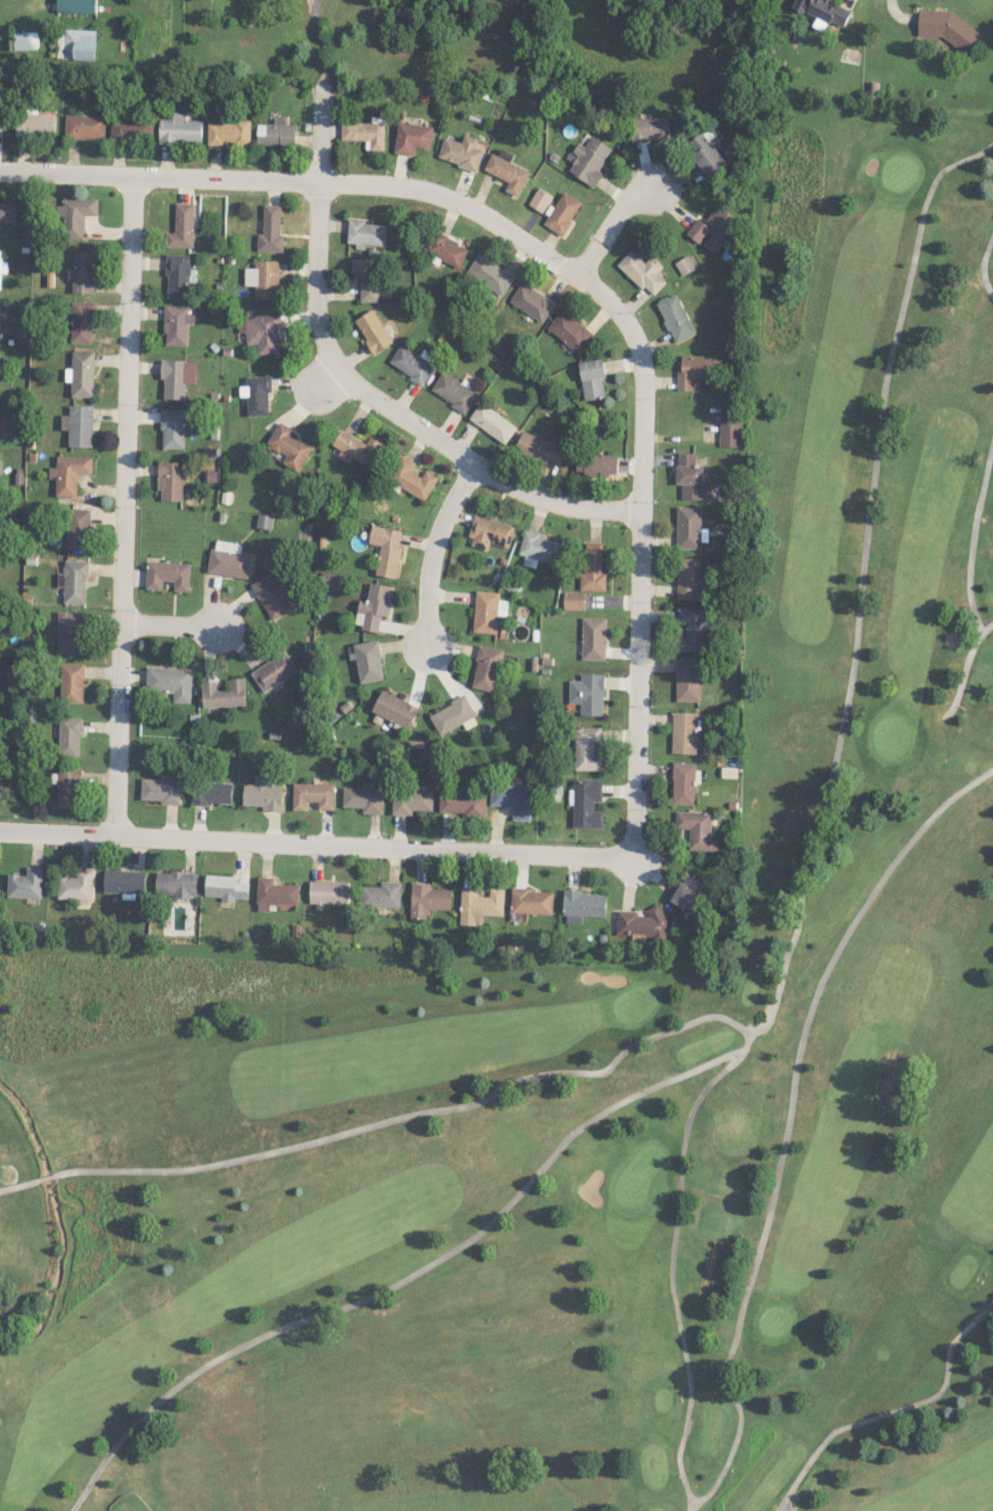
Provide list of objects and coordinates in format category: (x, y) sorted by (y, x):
road: (314, 3)
road: (311, 4)
building: (76, 6)
building: (823, 12)
building: (947, 27)
building: (25, 40)
building: (79, 44)
road: (319, 45)
building: (1, 113)
building: (35, 124)
building: (85, 126)
building: (131, 127)
building: (650, 128)
building: (180, 129)
building: (228, 132)
building: (364, 132)
building: (276, 133)
building: (412, 137)
building: (462, 152)
building: (705, 154)
building: (589, 158)
building: (507, 173)
road: (299, 175)
building: (539, 199)
building: (8, 211)
building: (562, 212)
building: (76, 214)
road: (608, 217)
building: (182, 227)
building: (720, 227)
building: (270, 229)
building: (698, 230)
road: (317, 231)
building: (366, 233)
building: (446, 249)
building: (0, 265)
building: (684, 265)
building: (84, 271)
building: (642, 271)
building: (489, 273)
building: (179, 275)
building: (366, 277)
building: (263, 279)
building: (531, 302)
building: (0, 313)
building: (675, 317)
building: (83, 322)
building: (176, 324)
building: (373, 330)
building: (262, 331)
building: (570, 331)
building: (411, 364)
building: (694, 369)
building: (81, 373)
building: (176, 377)
building: (592, 379)
building: (453, 391)
building: (256, 394)
building: (492, 422)
building: (79, 425)
building: (174, 426)
building: (730, 429)
building: (289, 445)
building: (357, 448)
building: (541, 448)
road: (477, 462)
building: (596, 464)
building: (0, 465)
building: (70, 473)
building: (689, 476)
building: (411, 478)
building: (170, 480)
road: (123, 497)
building: (263, 520)
building: (688, 527)
building: (78, 528)
building: (490, 532)
road: (638, 547)
building: (541, 549)
building: (386, 550)
road: (432, 550)
building: (229, 560)
building: (593, 568)
building: (167, 574)
building: (689, 578)
building: (74, 581)
building: (271, 596)
building: (574, 600)
building: (373, 606)
building: (487, 611)
building: (693, 627)
road: (171, 628)
building: (69, 632)
building: (593, 638)
building: (486, 668)
building: (274, 671)
building: (687, 678)
building: (71, 682)
building: (170, 682)
building: (223, 693)
building: (588, 693)
building: (395, 709)
building: (453, 715)
building: (684, 732)
building: (69, 737)
building: (683, 783)
building: (67, 787)
building: (0, 788)
building: (160, 790)
building: (212, 793)
building: (262, 794)
building: (312, 795)
building: (363, 797)
building: (512, 798)
building: (411, 800)
building: (463, 803)
building: (586, 803)
building: (697, 829)
road: (317, 835)
building: (124, 881)
building: (26, 883)
building: (175, 883)
building: (76, 885)
building: (225, 887)
building: (328, 891)
building: (688, 892)
building: (274, 893)
building: (381, 894)
building: (427, 899)
building: (531, 901)
building: (480, 905)
building: (582, 905)
building: (642, 924)
park: (595, 1048)

